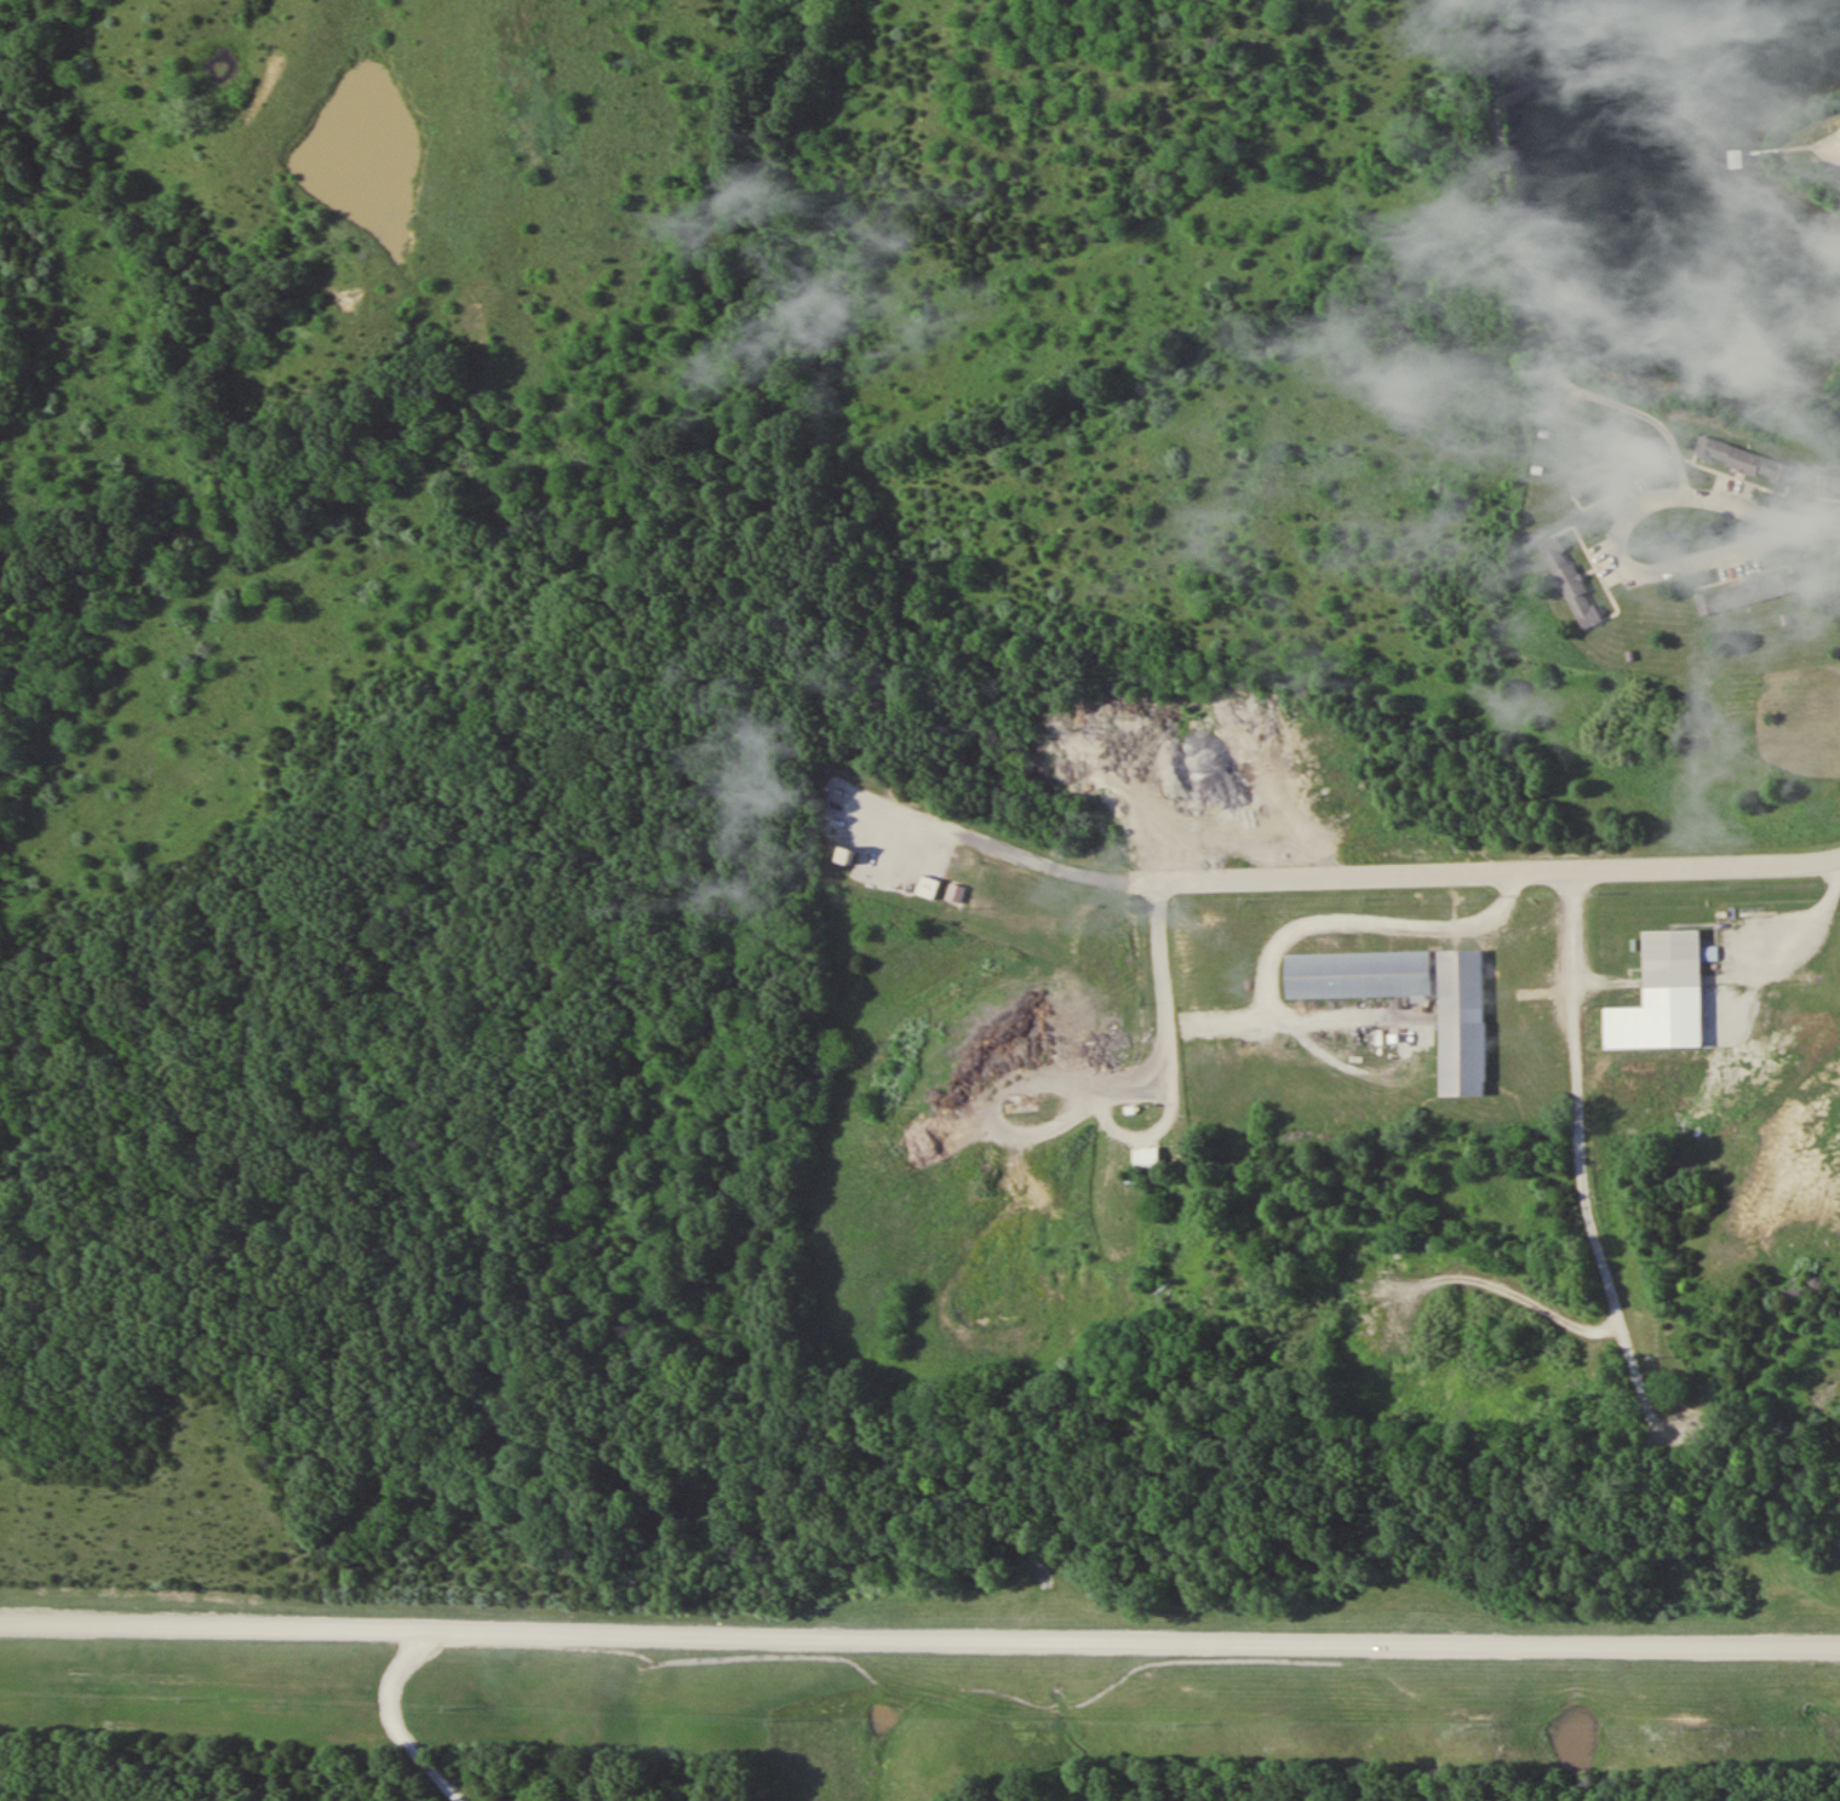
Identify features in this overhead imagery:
pier: (1784, 148)
road: (1834, 149)
building: (1735, 160)
park: (1661, 236)
building: (1747, 452)
building: (1618, 457)
building: (1829, 477)
road: (1725, 503)
road: (1816, 524)
building: (1577, 574)
building: (1748, 584)
road: (1394, 873)
building: (927, 887)
building: (1673, 950)
building: (1824, 975)
road: (1165, 1013)
building: (1461, 1036)
road: (1004, 1076)
road: (1581, 1152)
building: (1145, 1157)
road: (919, 1639)

